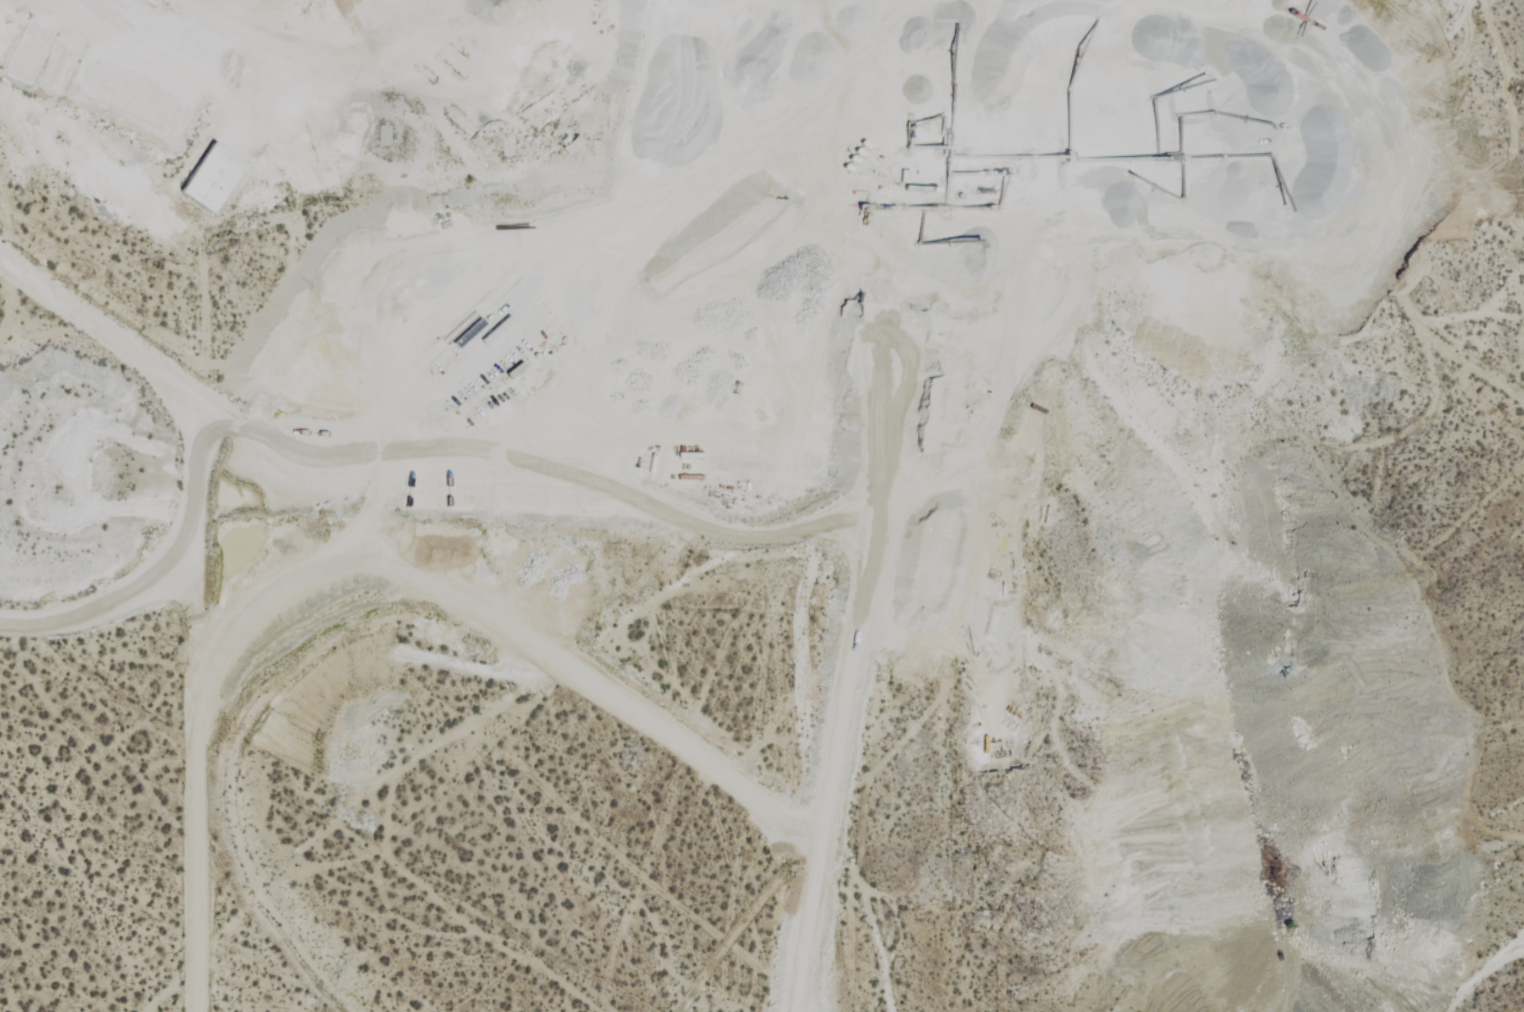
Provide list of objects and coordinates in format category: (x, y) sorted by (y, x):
building: (210, 177)
road: (172, 385)
quarry: (858, 487)
road: (86, 617)
road: (190, 775)

